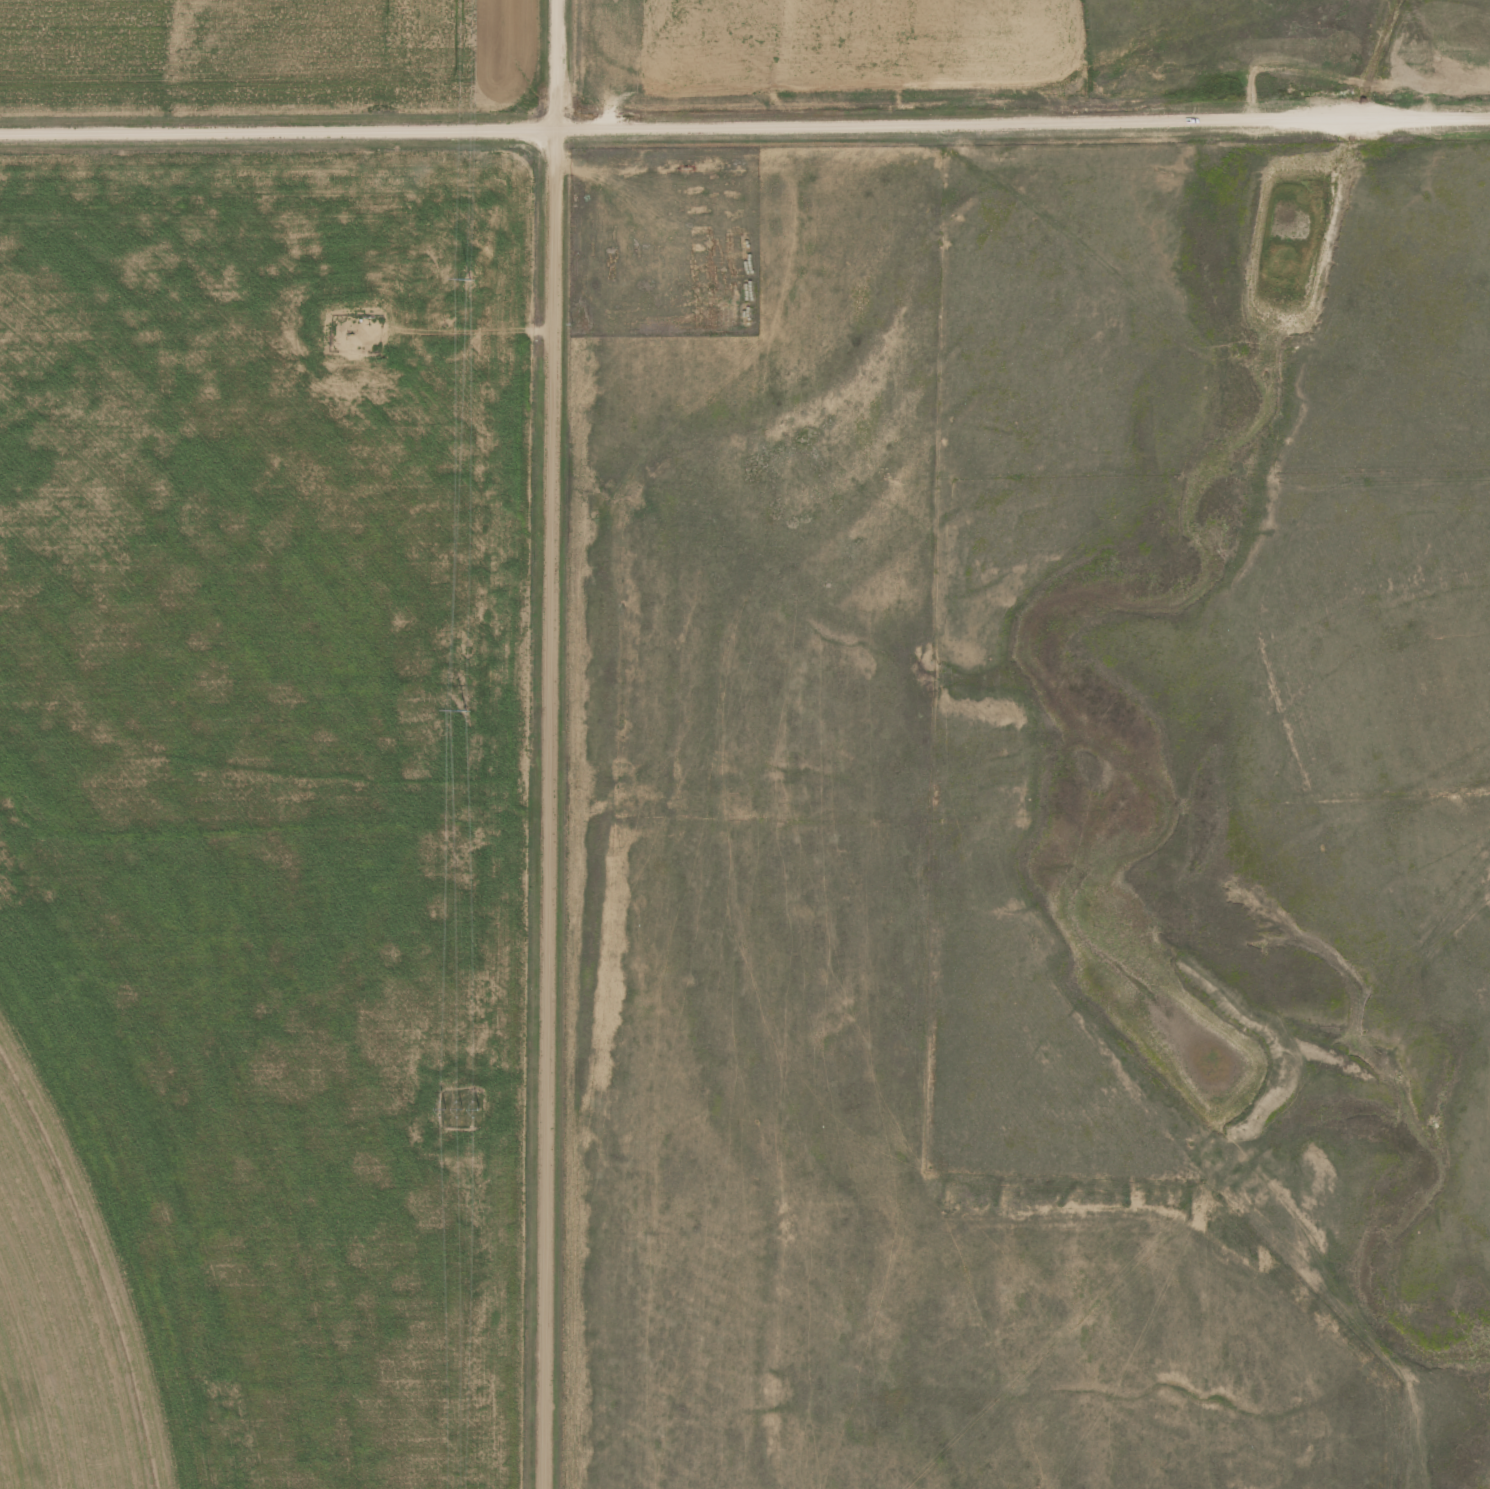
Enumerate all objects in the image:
road: (744, 123)
power tower: (468, 279)
power tower: (463, 711)
road: (555, 744)
power tower: (461, 1110)

